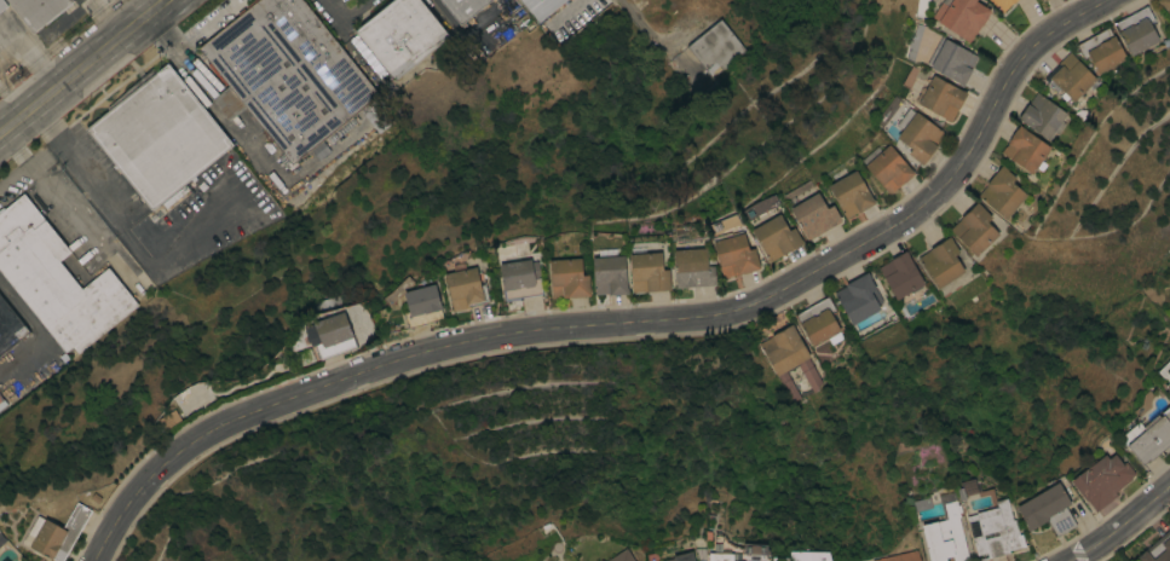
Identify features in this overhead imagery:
building: (1041, 0)
building: (1044, 0)
building: (1, 4)
building: (1002, 4)
building: (1165, 5)
building: (462, 7)
building: (540, 7)
building: (36, 11)
building: (961, 16)
road: (113, 17)
road: (345, 17)
building: (1135, 30)
building: (400, 35)
building: (715, 47)
building: (1101, 52)
building: (952, 62)
road: (83, 68)
building: (288, 75)
building: (1068, 77)
building: (941, 98)
building: (1042, 116)
road: (1, 132)
building: (157, 134)
building: (917, 134)
building: (1025, 150)
road: (77, 164)
building: (888, 168)
building: (1001, 192)
building: (851, 195)
building: (173, 196)
building: (813, 216)
building: (974, 229)
building: (776, 237)
building: (733, 254)
building: (941, 262)
building: (693, 267)
building: (647, 272)
building: (609, 274)
building: (900, 274)
building: (567, 278)
building: (54, 279)
building: (518, 279)
building: (465, 288)
building: (858, 297)
building: (421, 306)
road: (622, 322)
building: (818, 322)
building: (10, 326)
building: (330, 336)
building: (783, 349)
building: (304, 355)
building: (1166, 386)
building: (1168, 392)
building: (1, 403)
building: (1149, 436)
building: (1101, 480)
building: (1047, 510)
road: (1123, 525)
building: (993, 531)
building: (58, 534)
building: (945, 536)
building: (1157, 549)
building: (621, 556)
building: (720, 556)
building: (900, 556)
building: (680, 557)
building: (2, 560)

